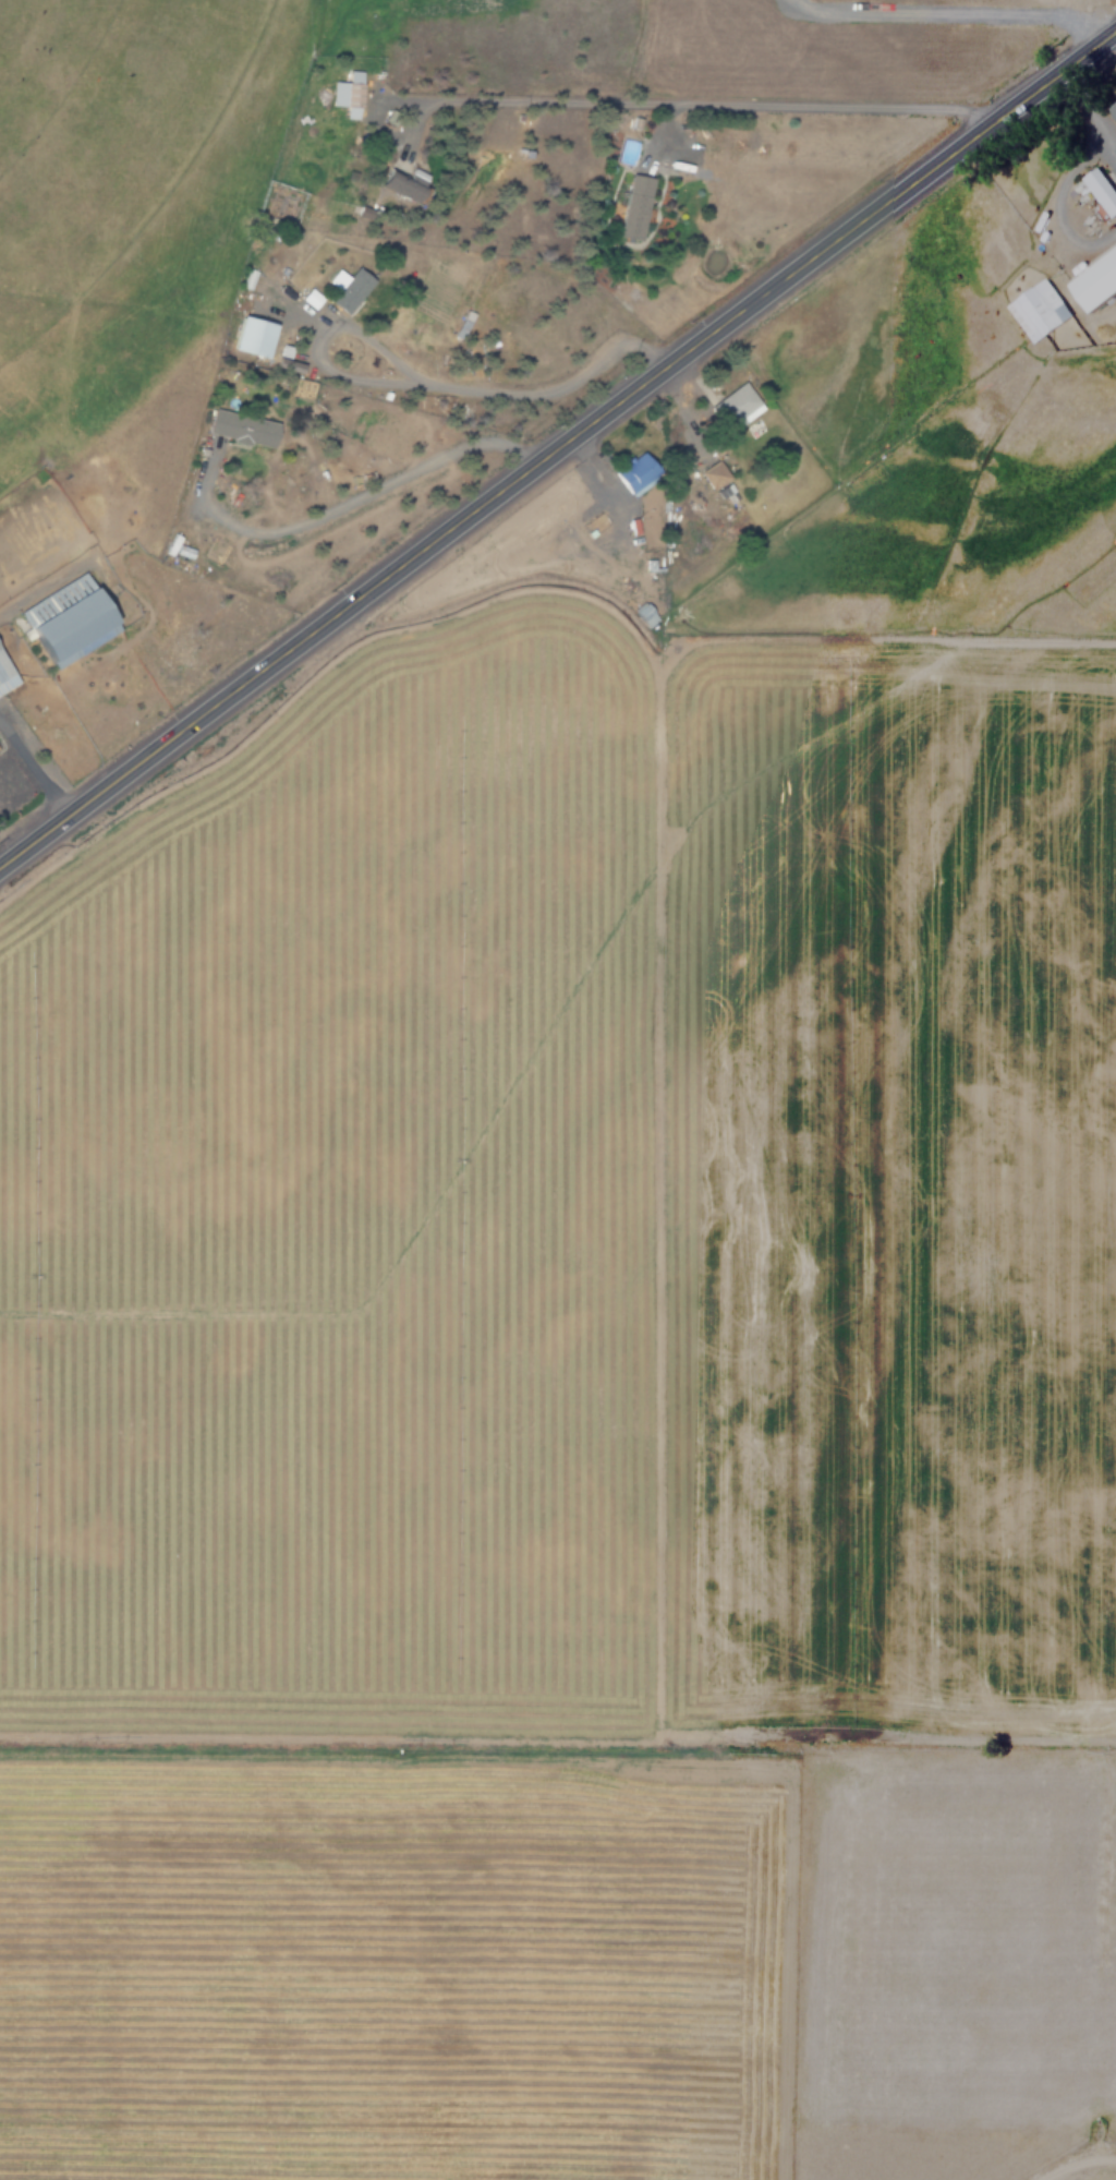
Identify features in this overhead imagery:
building: (349, 94)
road: (692, 104)
building: (1112, 108)
building: (398, 183)
building: (1101, 190)
building: (634, 206)
building: (1094, 280)
building: (345, 289)
building: (311, 298)
building: (1036, 310)
building: (248, 336)
road: (432, 386)
building: (735, 407)
building: (239, 427)
road: (560, 453)
building: (635, 472)
road: (385, 484)
building: (524, 554)
building: (64, 621)
building: (5, 675)
road: (36, 767)
building: (8, 776)
crop: (575, 1267)

